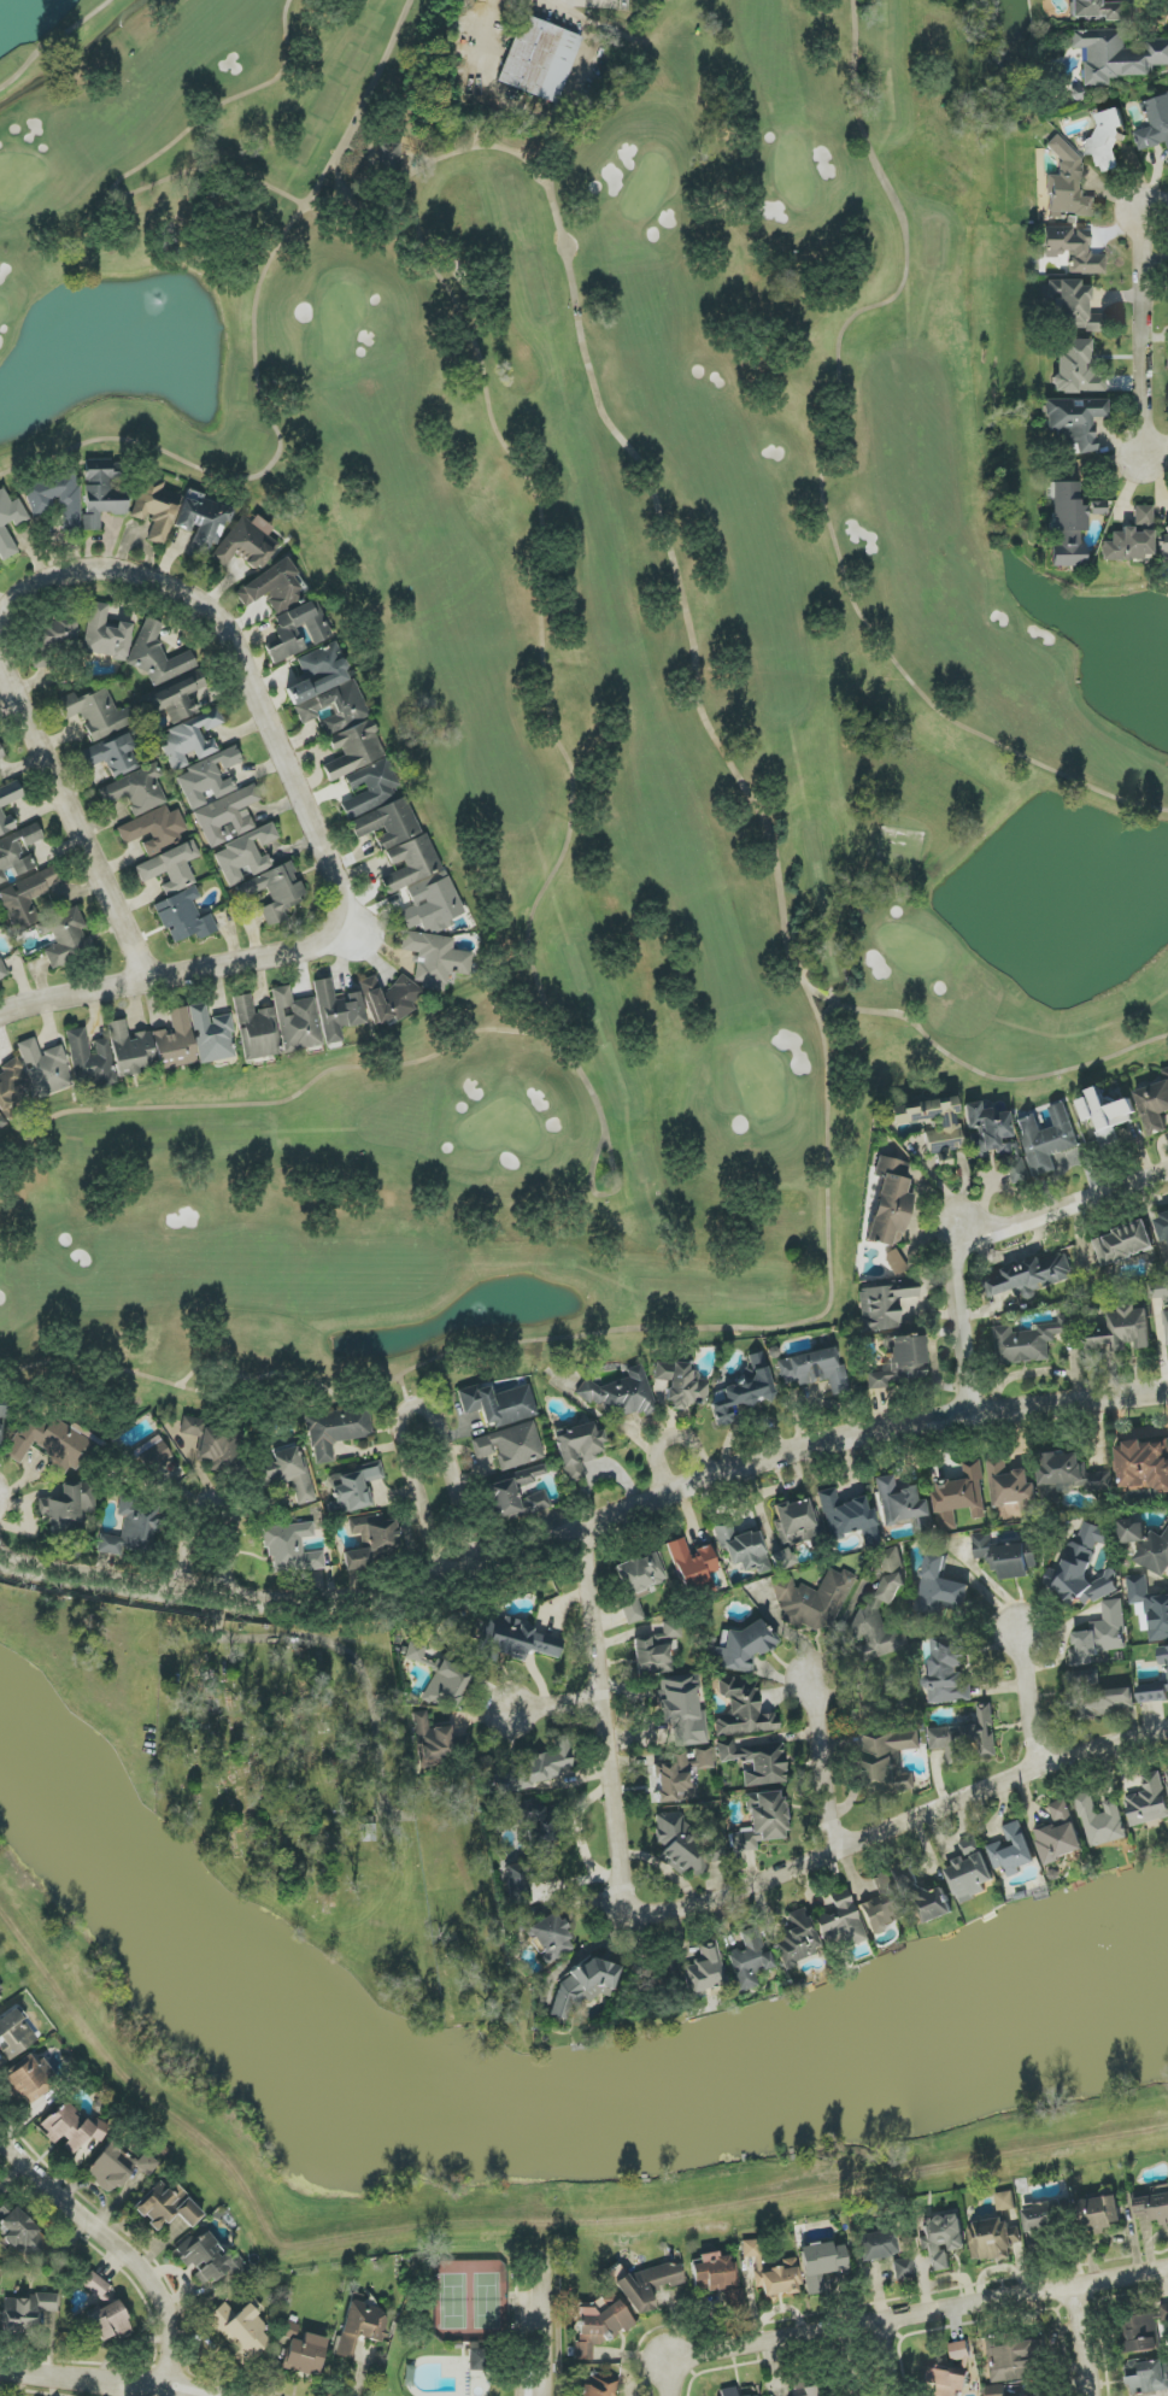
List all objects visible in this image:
building: (1099, 8)
building: (1116, 55)
building: (539, 59)
building: (1155, 124)
building: (1107, 141)
building: (388, 155)
building: (1068, 184)
road: (1139, 234)
building: (1072, 249)
building: (1072, 307)
building: (1167, 351)
building: (1075, 369)
road: (1141, 382)
building: (1073, 422)
building: (101, 493)
building: (55, 498)
building: (155, 510)
building: (8, 524)
building: (201, 524)
building: (1066, 525)
building: (1132, 539)
building: (246, 544)
building: (1163, 545)
building: (271, 588)
building: (318, 633)
building: (105, 634)
building: (52, 638)
building: (157, 656)
park: (581, 659)
building: (177, 699)
building: (335, 710)
building: (96, 712)
building: (190, 739)
building: (1, 754)
building: (112, 756)
building: (371, 787)
building: (136, 791)
building: (218, 799)
building: (4, 817)
building: (154, 829)
building: (18, 852)
building: (247, 855)
building: (411, 867)
building: (170, 868)
building: (274, 892)
building: (27, 897)
building: (184, 917)
road: (353, 918)
building: (65, 936)
building: (435, 958)
building: (2, 970)
road: (72, 993)
building: (388, 999)
building: (336, 1010)
building: (295, 1021)
building: (256, 1029)
building: (211, 1034)
building: (175, 1041)
building: (129, 1050)
building: (90, 1059)
building: (45, 1068)
building: (12, 1086)
building: (1155, 1106)
building: (1107, 1114)
building: (2, 1122)
building: (945, 1127)
building: (993, 1138)
building: (1047, 1139)
building: (888, 1203)
building: (1163, 1226)
road: (982, 1235)
building: (1123, 1244)
building: (894, 1262)
building: (1032, 1276)
building: (1161, 1291)
building: (882, 1304)
building: (1166, 1322)
building: (1122, 1331)
building: (1032, 1340)
building: (902, 1363)
building: (814, 1370)
building: (680, 1384)
building: (741, 1392)
building: (618, 1394)
road: (413, 1404)
building: (498, 1404)
building: (1, 1417)
building: (336, 1431)
building: (48, 1441)
building: (215, 1444)
building: (510, 1446)
building: (577, 1449)
building: (151, 1456)
building: (1143, 1467)
building: (288, 1472)
building: (528, 1475)
building: (1069, 1476)
building: (1011, 1486)
building: (354, 1487)
road: (0, 1491)
building: (961, 1497)
road: (216, 1501)
building: (513, 1502)
building: (904, 1505)
building: (66, 1508)
building: (849, 1517)
building: (796, 1521)
building: (133, 1527)
road: (585, 1529)
building: (1132, 1532)
building: (371, 1541)
building: (743, 1548)
building: (292, 1549)
building: (1155, 1554)
building: (783, 1557)
building: (691, 1563)
building: (1084, 1568)
building: (638, 1581)
building: (940, 1587)
building: (814, 1602)
building: (878, 1603)
building: (1150, 1607)
building: (668, 1633)
building: (1100, 1635)
building: (513, 1640)
building: (739, 1649)
building: (415, 1651)
building: (1163, 1656)
building: (651, 1657)
building: (950, 1670)
building: (446, 1685)
building: (1152, 1693)
building: (1096, 1696)
road: (1028, 1701)
road: (558, 1705)
building: (743, 1710)
building: (682, 1711)
building: (967, 1738)
building: (433, 1743)
building: (756, 1761)
building: (888, 1761)
road: (824, 1767)
building: (534, 1768)
building: (1167, 1769)
building: (680, 1775)
park: (300, 1791)
building: (1149, 1802)
building: (761, 1821)
building: (1102, 1821)
building: (1058, 1834)
building: (685, 1844)
building: (1013, 1850)
building: (530, 1852)
building: (970, 1872)
building: (923, 1897)
road: (717, 1899)
building: (882, 1905)
building: (840, 1924)
building: (546, 1936)
building: (797, 1939)
building: (749, 1960)
building: (704, 1969)
building: (582, 1985)
building: (0, 1991)
building: (14, 2033)
building: (29, 2078)
building: (71, 2127)
building: (117, 2167)
building: (1005, 2202)
building: (1152, 2204)
building: (166, 2207)
building: (1100, 2214)
building: (1044, 2221)
building: (22, 2234)
building: (941, 2239)
road: (117, 2241)
building: (991, 2241)
building: (876, 2245)
building: (209, 2260)
building: (821, 2265)
building: (903, 2268)
building: (714, 2272)
building: (771, 2272)
building: (94, 2284)
building: (648, 2286)
building: (733, 2297)
building: (25, 2310)
road: (899, 2313)
building: (110, 2321)
building: (599, 2324)
park: (464, 2325)
road: (545, 2326)
building: (360, 2327)
building: (240, 2330)
building: (288, 2330)
building: (1146, 2331)
road: (1084, 2339)
parking lot: (527, 2343)
building: (305, 2355)
road: (865, 2359)
building: (1014, 2359)
building: (480, 2360)
building: (1146, 2378)
road: (100, 2380)
building: (944, 2384)
building: (599, 2386)
building: (994, 2390)
building: (728, 2391)
building: (810, 2391)
building: (755, 2395)

